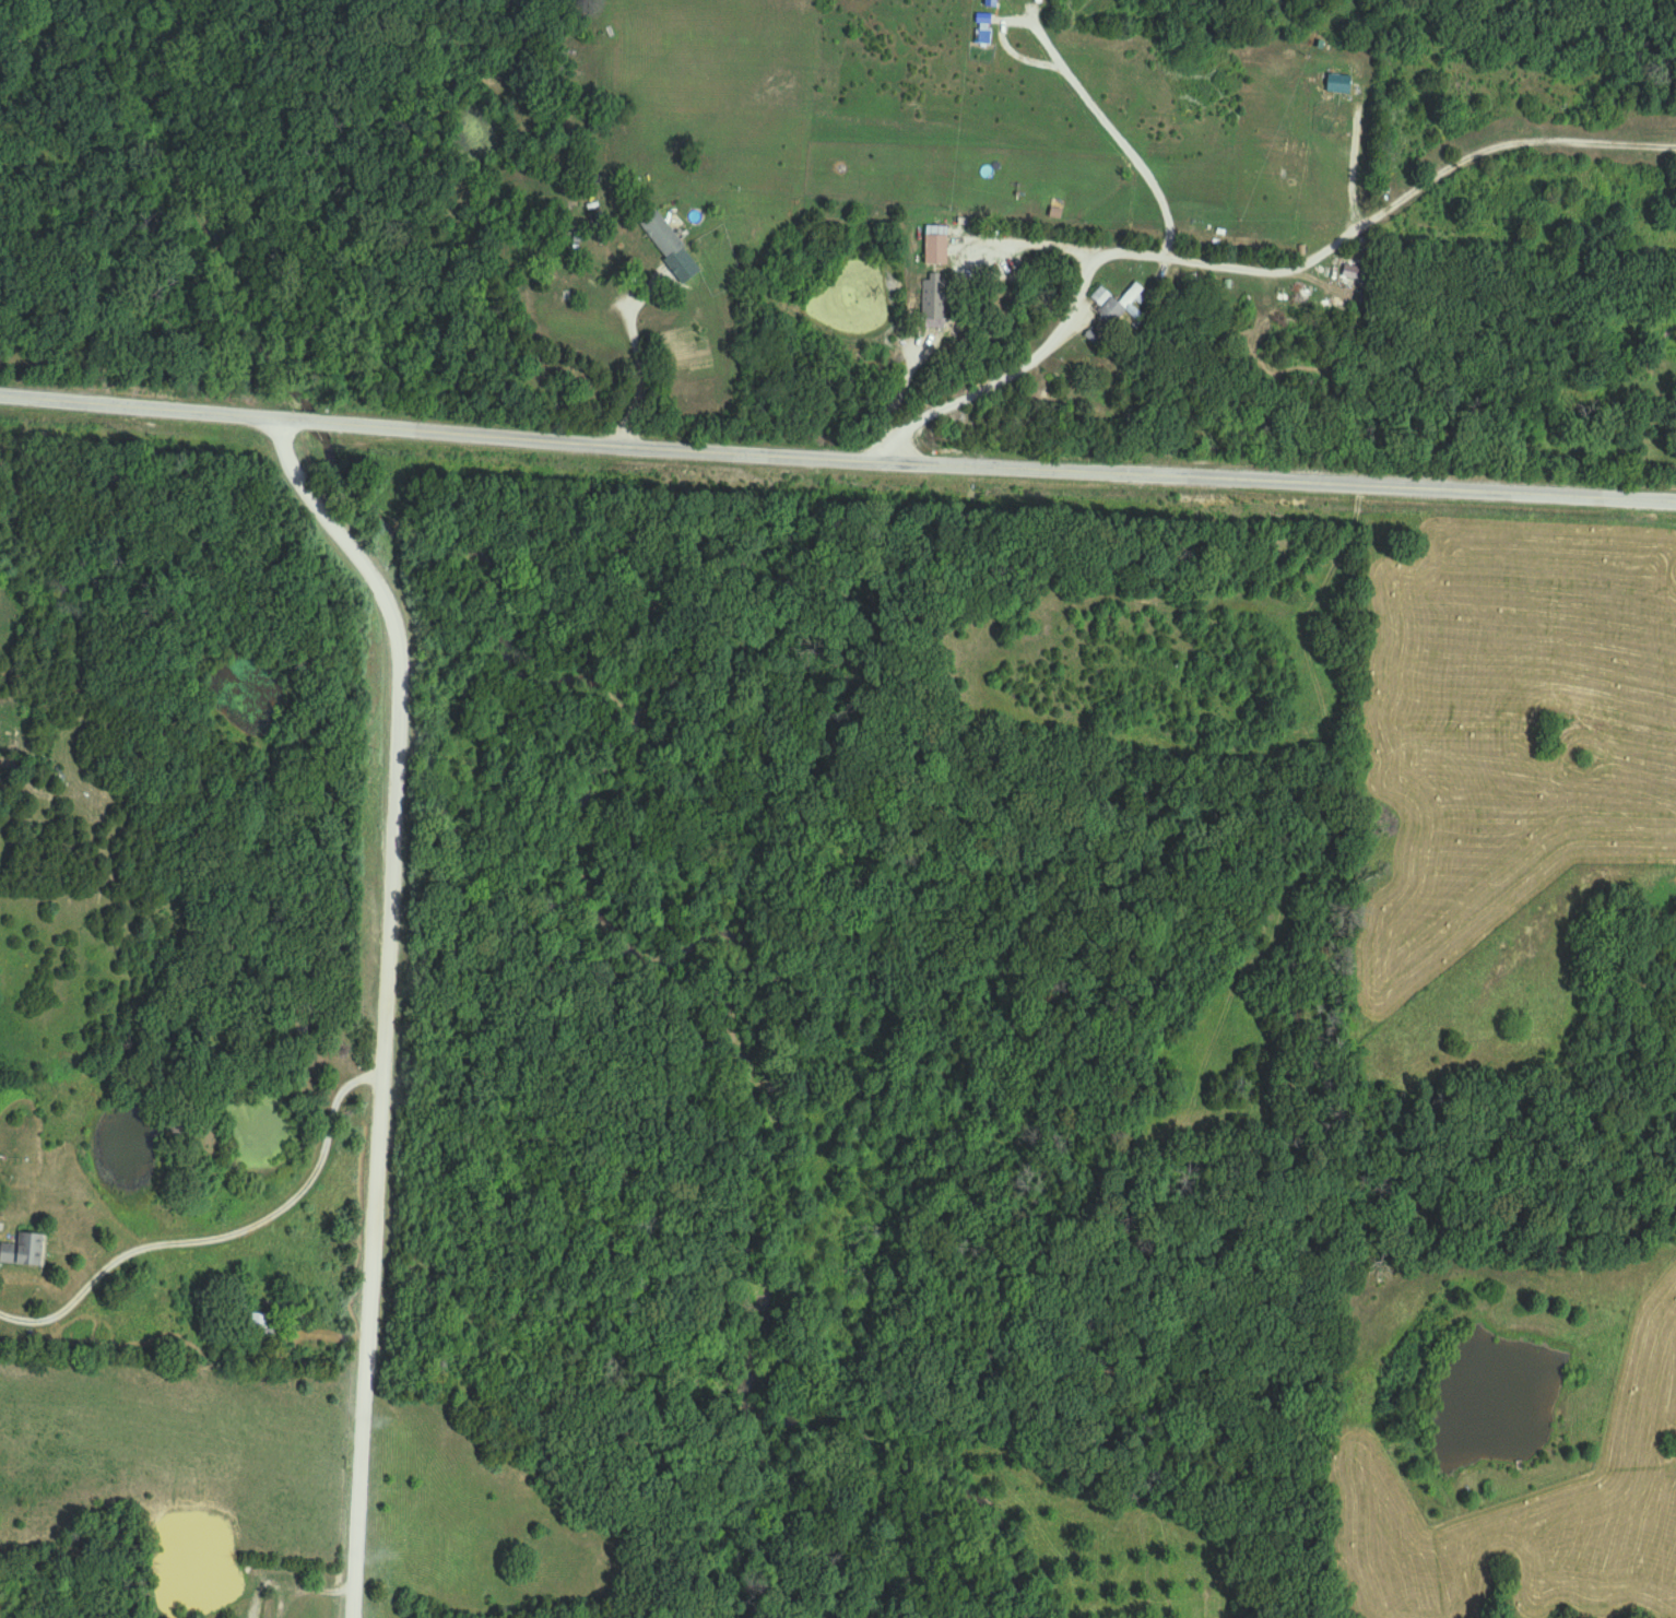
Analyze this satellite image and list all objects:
road: (1027, 139)
building: (662, 236)
building: (936, 246)
road: (1325, 246)
building: (590, 292)
building: (934, 297)
building: (1106, 308)
road: (628, 365)
road: (1004, 377)
road: (837, 461)
road: (2, 598)
road: (388, 1000)
road: (228, 1244)
building: (26, 1251)
building: (259, 1322)

